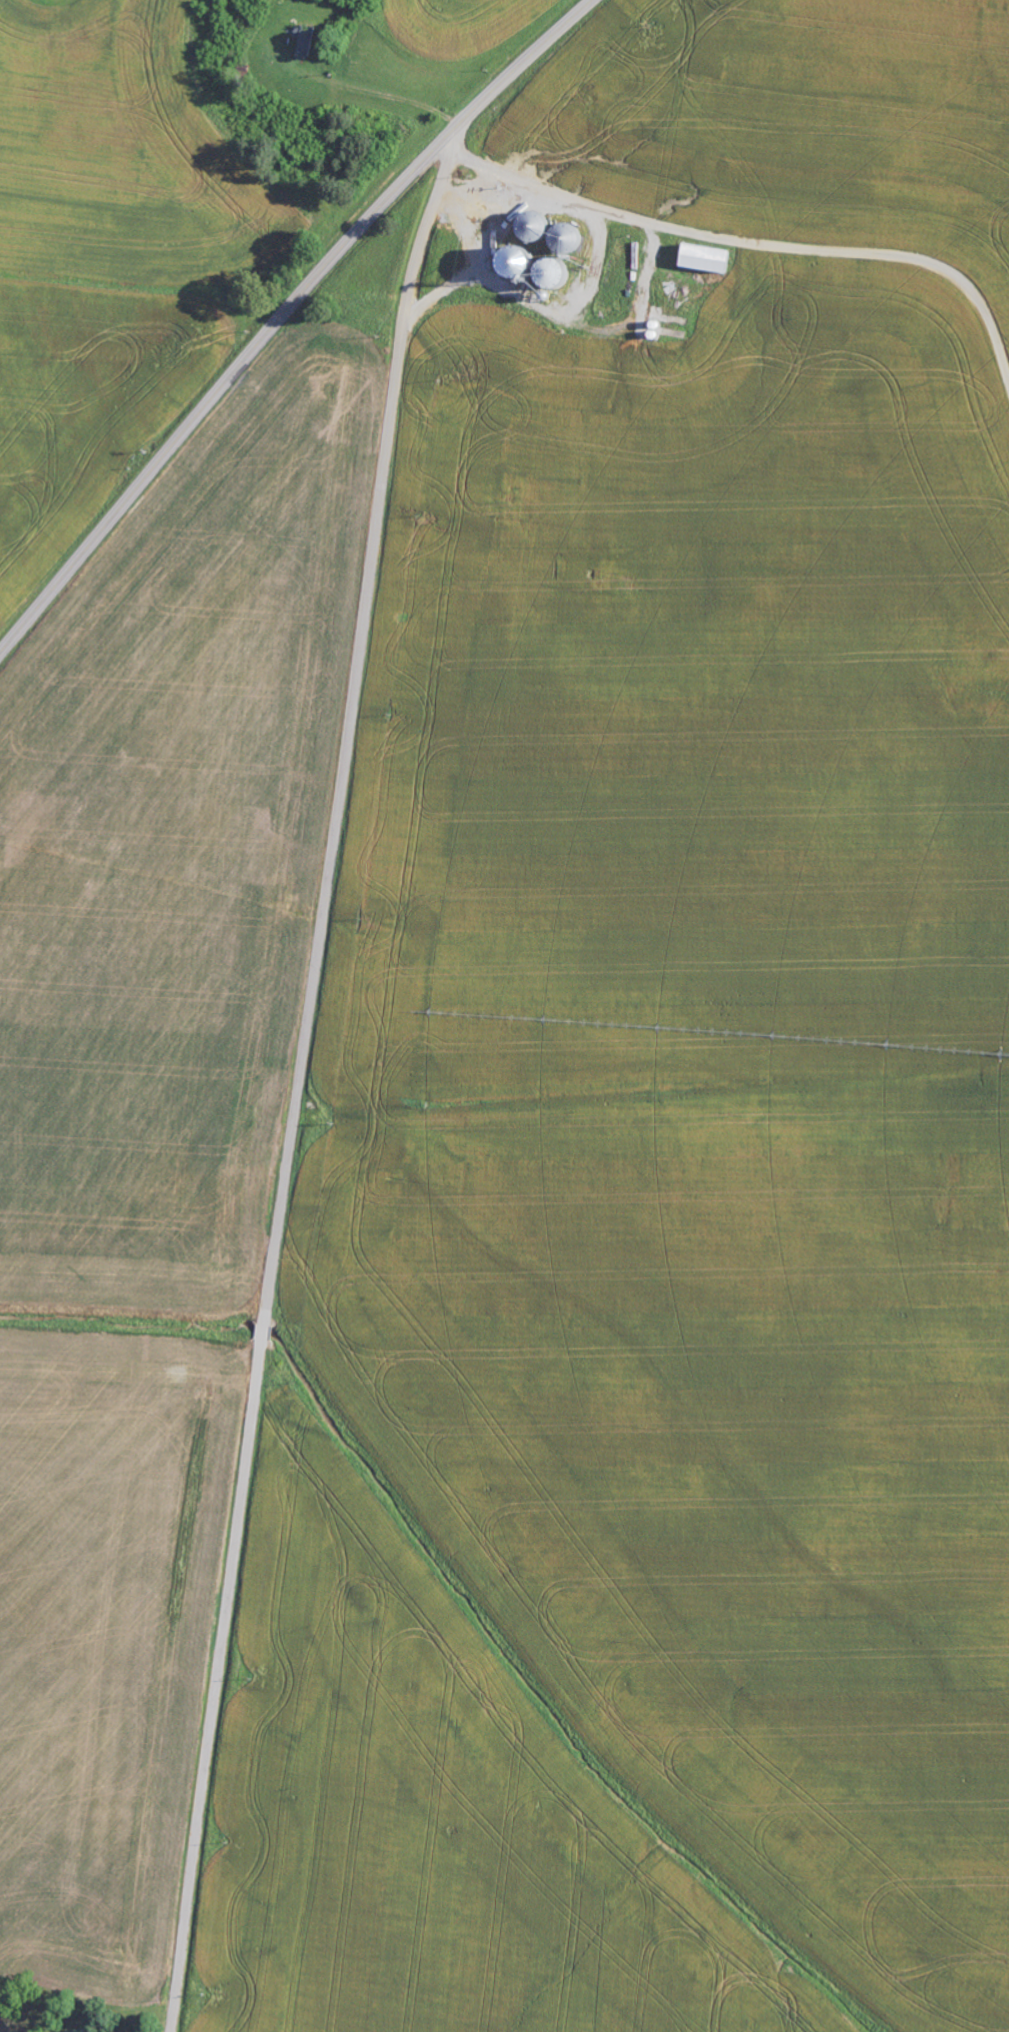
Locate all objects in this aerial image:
road: (734, 195)
building: (711, 261)
road: (284, 315)
road: (302, 1077)
building: (88, 2030)
building: (71, 2031)

